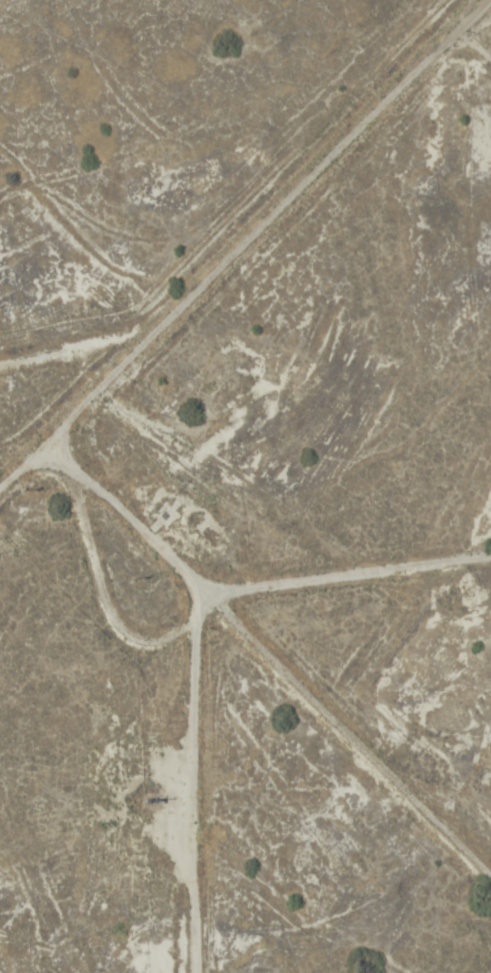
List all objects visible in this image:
road: (473, 33)
road: (39, 431)
road: (18, 447)
road: (254, 687)

